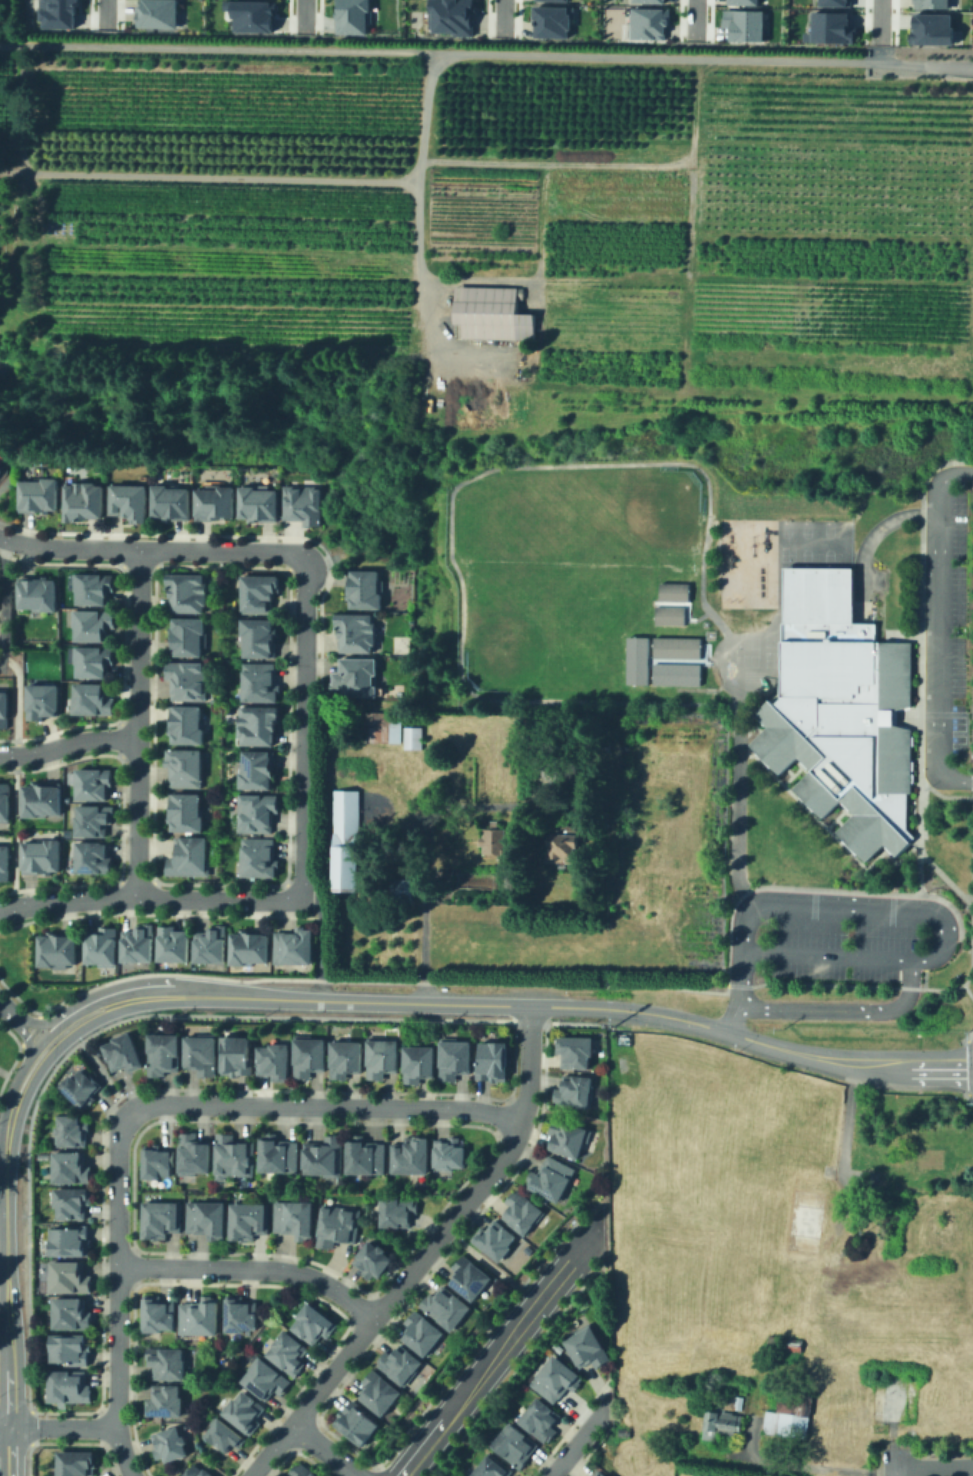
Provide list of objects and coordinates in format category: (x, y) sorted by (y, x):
building: (556, 0)
building: (650, 0)
building: (740, 2)
building: (833, 2)
building: (931, 2)
building: (232, 6)
road: (108, 13)
building: (62, 14)
road: (307, 14)
building: (162, 15)
building: (259, 17)
building: (356, 17)
road: (505, 17)
building: (456, 18)
building: (549, 18)
road: (696, 18)
building: (646, 22)
road: (883, 22)
building: (742, 23)
building: (828, 25)
building: (932, 29)
road: (486, 54)
road: (208, 176)
crop: (502, 214)
road: (417, 241)
building: (491, 315)
building: (2, 461)
road: (488, 468)
road: (960, 473)
building: (39, 489)
building: (85, 493)
building: (130, 495)
building: (217, 495)
building: (173, 496)
building: (262, 496)
building: (304, 498)
park: (647, 518)
park: (785, 528)
park: (805, 528)
park: (827, 528)
road: (872, 536)
park: (518, 537)
road: (151, 548)
park: (786, 553)
park: (804, 557)
park: (827, 557)
building: (95, 582)
building: (366, 583)
park: (592, 583)
building: (189, 586)
building: (260, 587)
building: (41, 588)
building: (672, 590)
building: (815, 594)
road: (1, 596)
road: (685, 609)
building: (668, 613)
building: (94, 618)
building: (359, 626)
parking lot: (956, 626)
road: (939, 628)
building: (189, 631)
building: (260, 631)
road: (901, 633)
road: (927, 633)
park: (517, 636)
building: (874, 636)
park: (770, 638)
building: (674, 646)
park: (728, 647)
park: (748, 650)
building: (96, 655)
road: (702, 655)
building: (635, 659)
park: (770, 659)
road: (703, 661)
road: (713, 661)
road: (919, 661)
building: (360, 670)
building: (673, 673)
building: (188, 674)
building: (261, 677)
building: (96, 693)
building: (46, 695)
building: (6, 703)
building: (893, 716)
road: (905, 716)
road: (964, 718)
building: (188, 719)
building: (260, 720)
building: (759, 720)
road: (136, 722)
building: (373, 726)
building: (394, 726)
building: (842, 726)
road: (303, 727)
road: (748, 729)
road: (951, 732)
building: (412, 736)
building: (909, 740)
road: (67, 745)
building: (601, 745)
building: (761, 757)
road: (913, 758)
road: (759, 759)
building: (259, 762)
building: (801, 763)
building: (186, 764)
building: (909, 764)
road: (786, 770)
road: (790, 773)
building: (909, 776)
road: (17, 777)
building: (98, 779)
road: (962, 780)
road: (913, 783)
road: (940, 794)
building: (47, 795)
building: (6, 797)
building: (805, 802)
building: (842, 804)
building: (187, 806)
building: (258, 806)
road: (736, 807)
park: (371, 808)
building: (96, 815)
road: (832, 816)
road: (836, 821)
road: (827, 831)
road: (423, 836)
building: (344, 839)
building: (492, 839)
building: (568, 841)
road: (913, 843)
building: (848, 846)
building: (886, 849)
road: (883, 850)
building: (45, 852)
building: (98, 852)
building: (189, 853)
building: (259, 853)
building: (6, 859)
road: (944, 879)
building: (401, 886)
road: (816, 888)
road: (150, 897)
road: (835, 897)
road: (971, 902)
road: (810, 920)
road: (889, 925)
building: (175, 938)
building: (140, 939)
building: (103, 941)
building: (212, 941)
building: (252, 941)
building: (296, 942)
road: (320, 944)
building: (58, 946)
parking lot: (844, 952)
road: (828, 954)
road: (922, 974)
road: (912, 976)
road: (485, 982)
road: (967, 991)
road: (548, 1004)
road: (88, 1005)
road: (808, 1005)
road: (7, 1008)
road: (37, 1021)
road: (25, 1034)
road: (966, 1034)
building: (574, 1047)
building: (124, 1050)
building: (164, 1050)
building: (203, 1051)
road: (966, 1051)
building: (238, 1052)
building: (311, 1052)
road: (48, 1054)
building: (384, 1054)
building: (347, 1055)
building: (456, 1055)
building: (495, 1057)
building: (277, 1058)
building: (420, 1059)
road: (20, 1070)
road: (101, 1071)
road: (8, 1073)
building: (81, 1084)
building: (574, 1087)
road: (325, 1103)
building: (73, 1126)
building: (567, 1134)
building: (451, 1149)
building: (194, 1151)
building: (279, 1152)
building: (413, 1152)
building: (324, 1153)
building: (367, 1153)
building: (235, 1154)
building: (936, 1155)
building: (157, 1159)
building: (71, 1164)
building: (551, 1176)
building: (74, 1198)
building: (398, 1207)
building: (522, 1210)
building: (208, 1215)
building: (296, 1215)
building: (162, 1216)
building: (250, 1217)
building: (804, 1218)
building: (338, 1224)
building: (496, 1235)
building: (71, 1237)
crop: (756, 1241)
road: (3, 1251)
road: (424, 1253)
building: (373, 1257)
road: (489, 1265)
road: (252, 1266)
building: (70, 1274)
building: (469, 1274)
road: (116, 1293)
road: (6, 1303)
building: (445, 1304)
building: (72, 1310)
building: (159, 1311)
building: (242, 1311)
building: (201, 1314)
building: (315, 1320)
building: (422, 1330)
building: (785, 1343)
building: (587, 1344)
building: (555, 1345)
building: (71, 1346)
road: (498, 1349)
building: (289, 1351)
building: (167, 1360)
building: (400, 1361)
building: (557, 1376)
building: (268, 1377)
building: (70, 1383)
building: (379, 1390)
building: (893, 1396)
building: (166, 1397)
building: (736, 1399)
building: (245, 1408)
building: (540, 1417)
building: (722, 1418)
building: (356, 1421)
building: (786, 1425)
road: (57, 1428)
building: (622, 1429)
building: (225, 1432)
road: (580, 1440)
building: (170, 1442)
building: (516, 1442)
road: (323, 1449)
road: (893, 1460)
building: (77, 1462)
road: (804, 1465)
building: (489, 1468)
building: (302, 1470)
road: (933, 1470)
building: (199, 1471)
building: (602, 1473)
road: (893, 1474)

